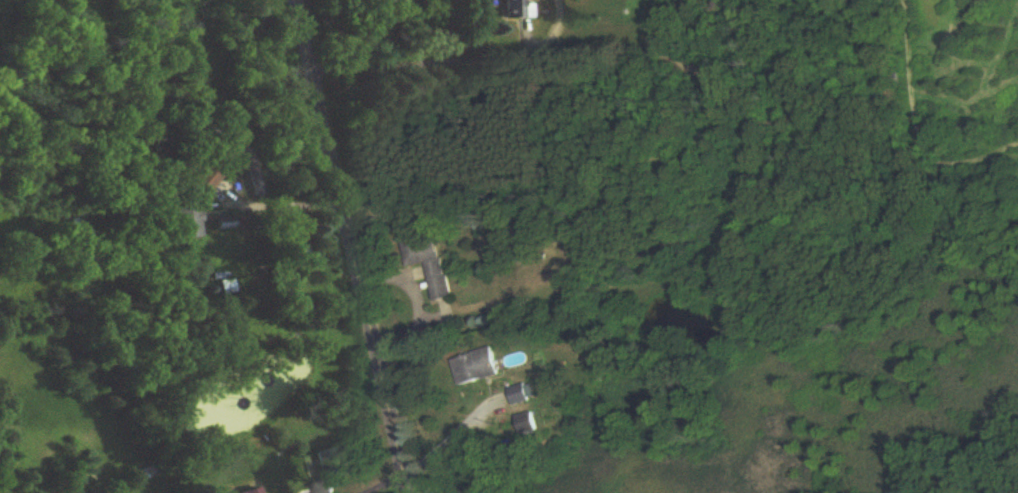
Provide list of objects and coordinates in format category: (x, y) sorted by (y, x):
building: (515, 9)
road: (454, 60)
building: (256, 173)
building: (208, 176)
building: (188, 220)
road: (354, 246)
building: (296, 251)
building: (424, 260)
building: (476, 368)
building: (522, 396)
building: (531, 425)
building: (324, 461)
road: (386, 483)
building: (256, 492)

